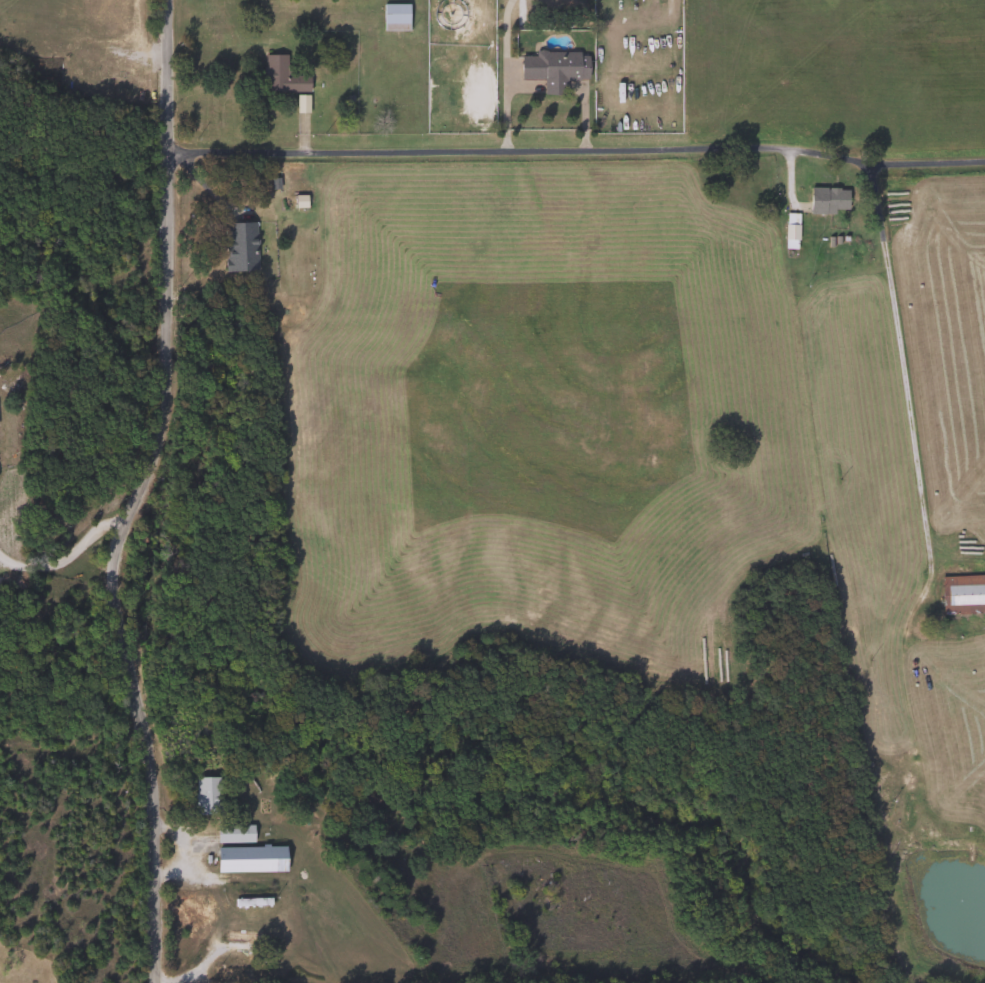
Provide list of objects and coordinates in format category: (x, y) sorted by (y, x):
building: (393, 17)
road: (506, 34)
building: (551, 69)
building: (280, 76)
road: (576, 139)
building: (826, 199)
building: (790, 230)
building: (238, 247)
road: (901, 380)
road: (136, 494)
road: (66, 558)
building: (962, 593)
building: (206, 795)
building: (232, 833)
road: (183, 853)
building: (249, 859)
building: (250, 902)
building: (232, 972)

